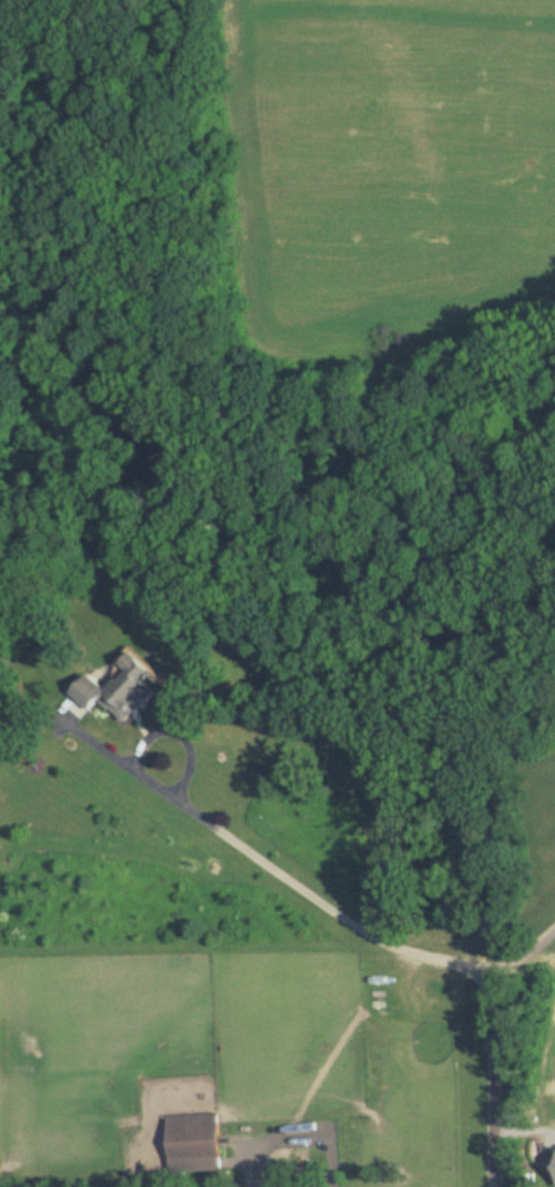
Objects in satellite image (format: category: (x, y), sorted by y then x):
building: (114, 690)
road: (397, 946)
road: (523, 956)
building: (191, 1136)

